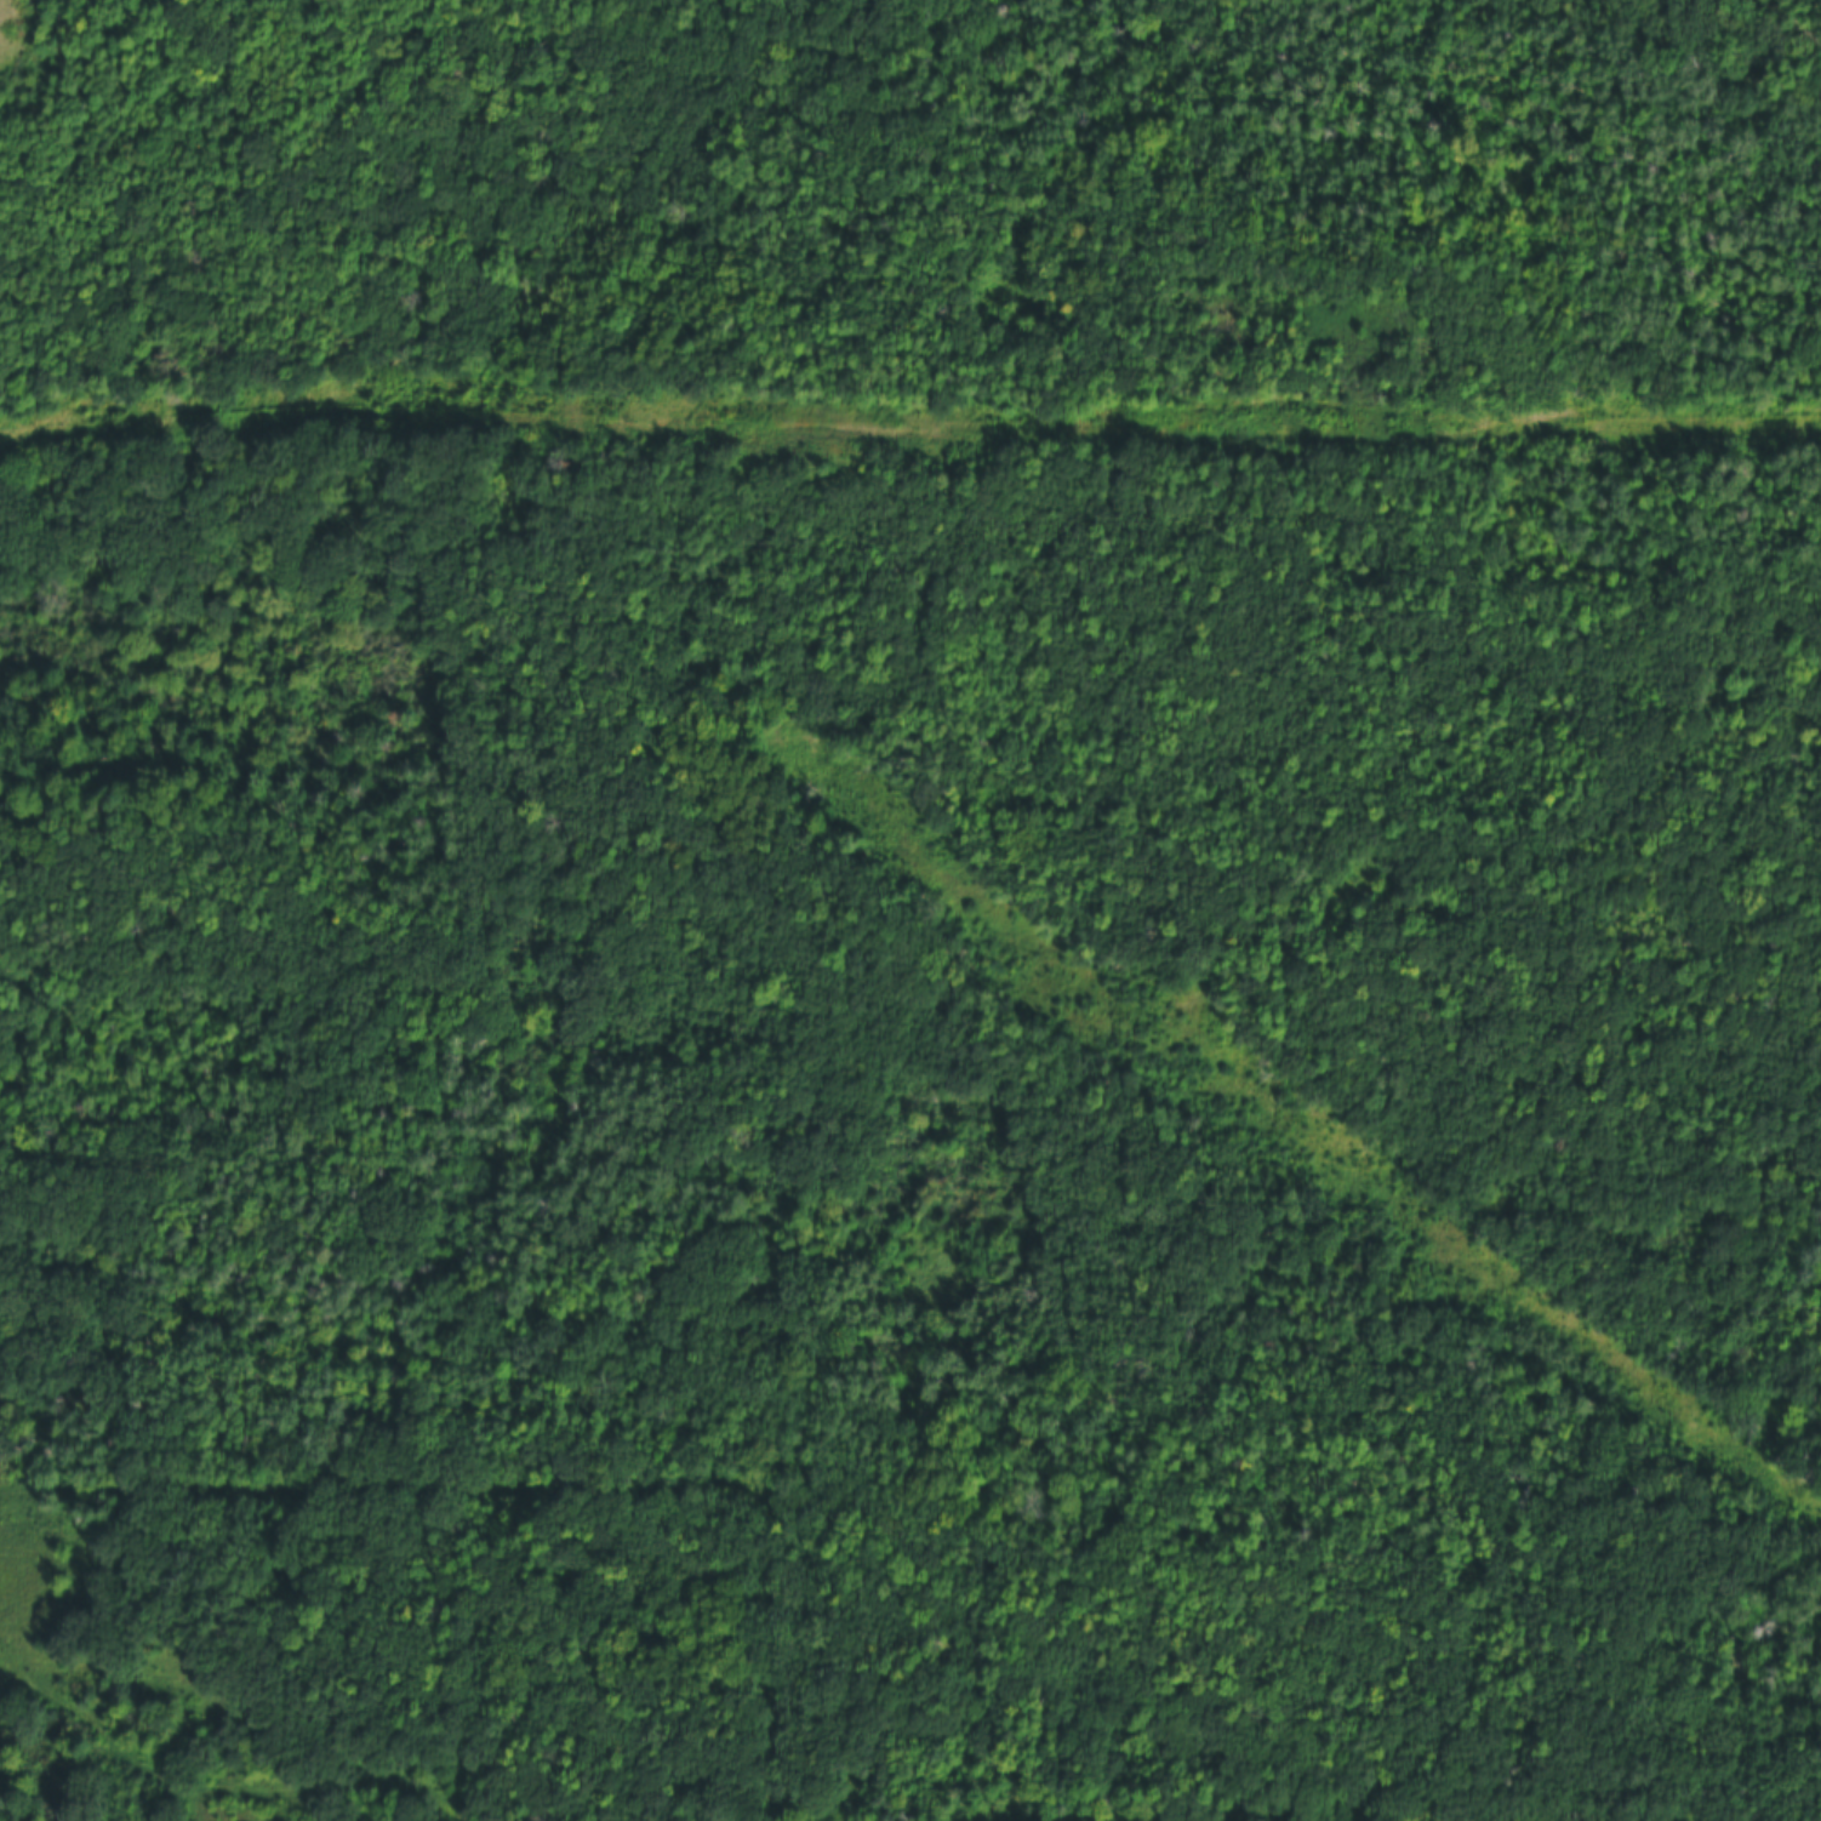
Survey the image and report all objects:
road: (1785, 28)

